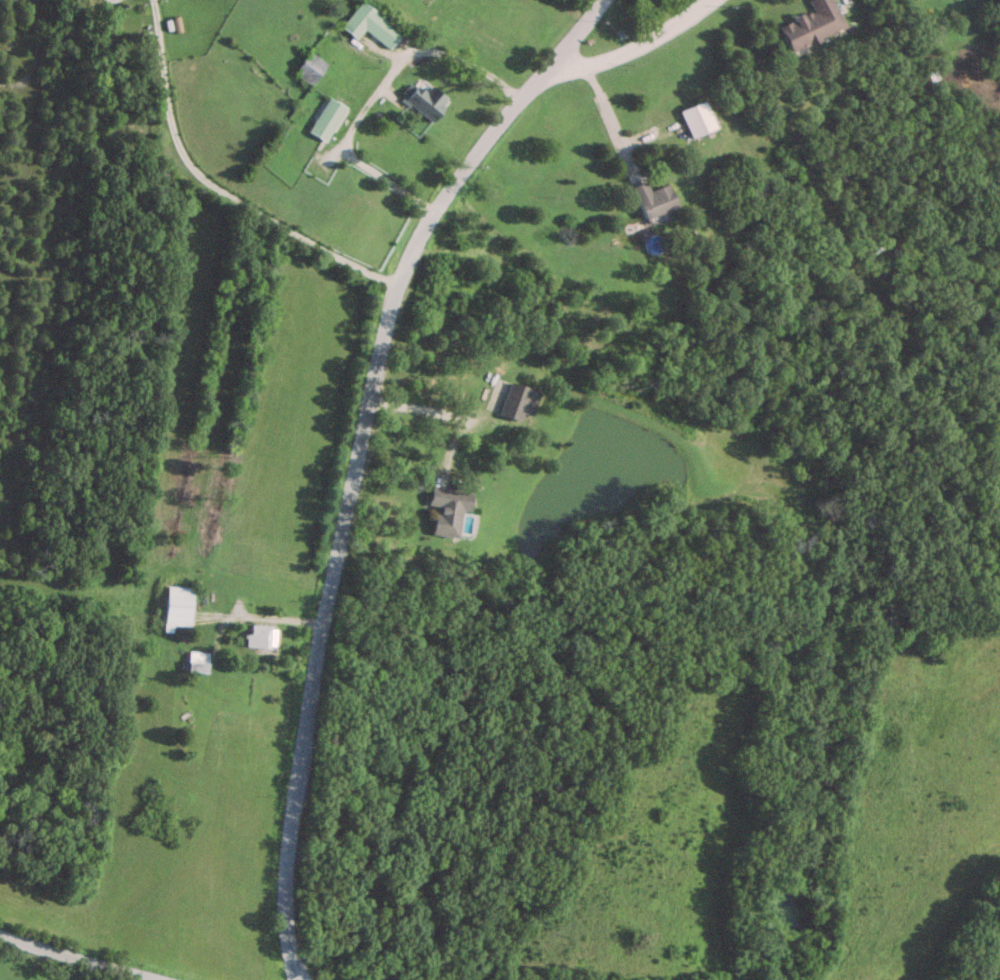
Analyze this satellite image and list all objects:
building: (811, 23)
building: (369, 24)
road: (632, 50)
building: (308, 67)
road: (374, 93)
building: (425, 99)
building: (697, 118)
building: (325, 119)
road: (215, 187)
building: (652, 197)
building: (516, 400)
road: (423, 412)
road: (358, 462)
building: (446, 509)
building: (178, 606)
building: (259, 634)
building: (198, 661)
road: (79, 957)

